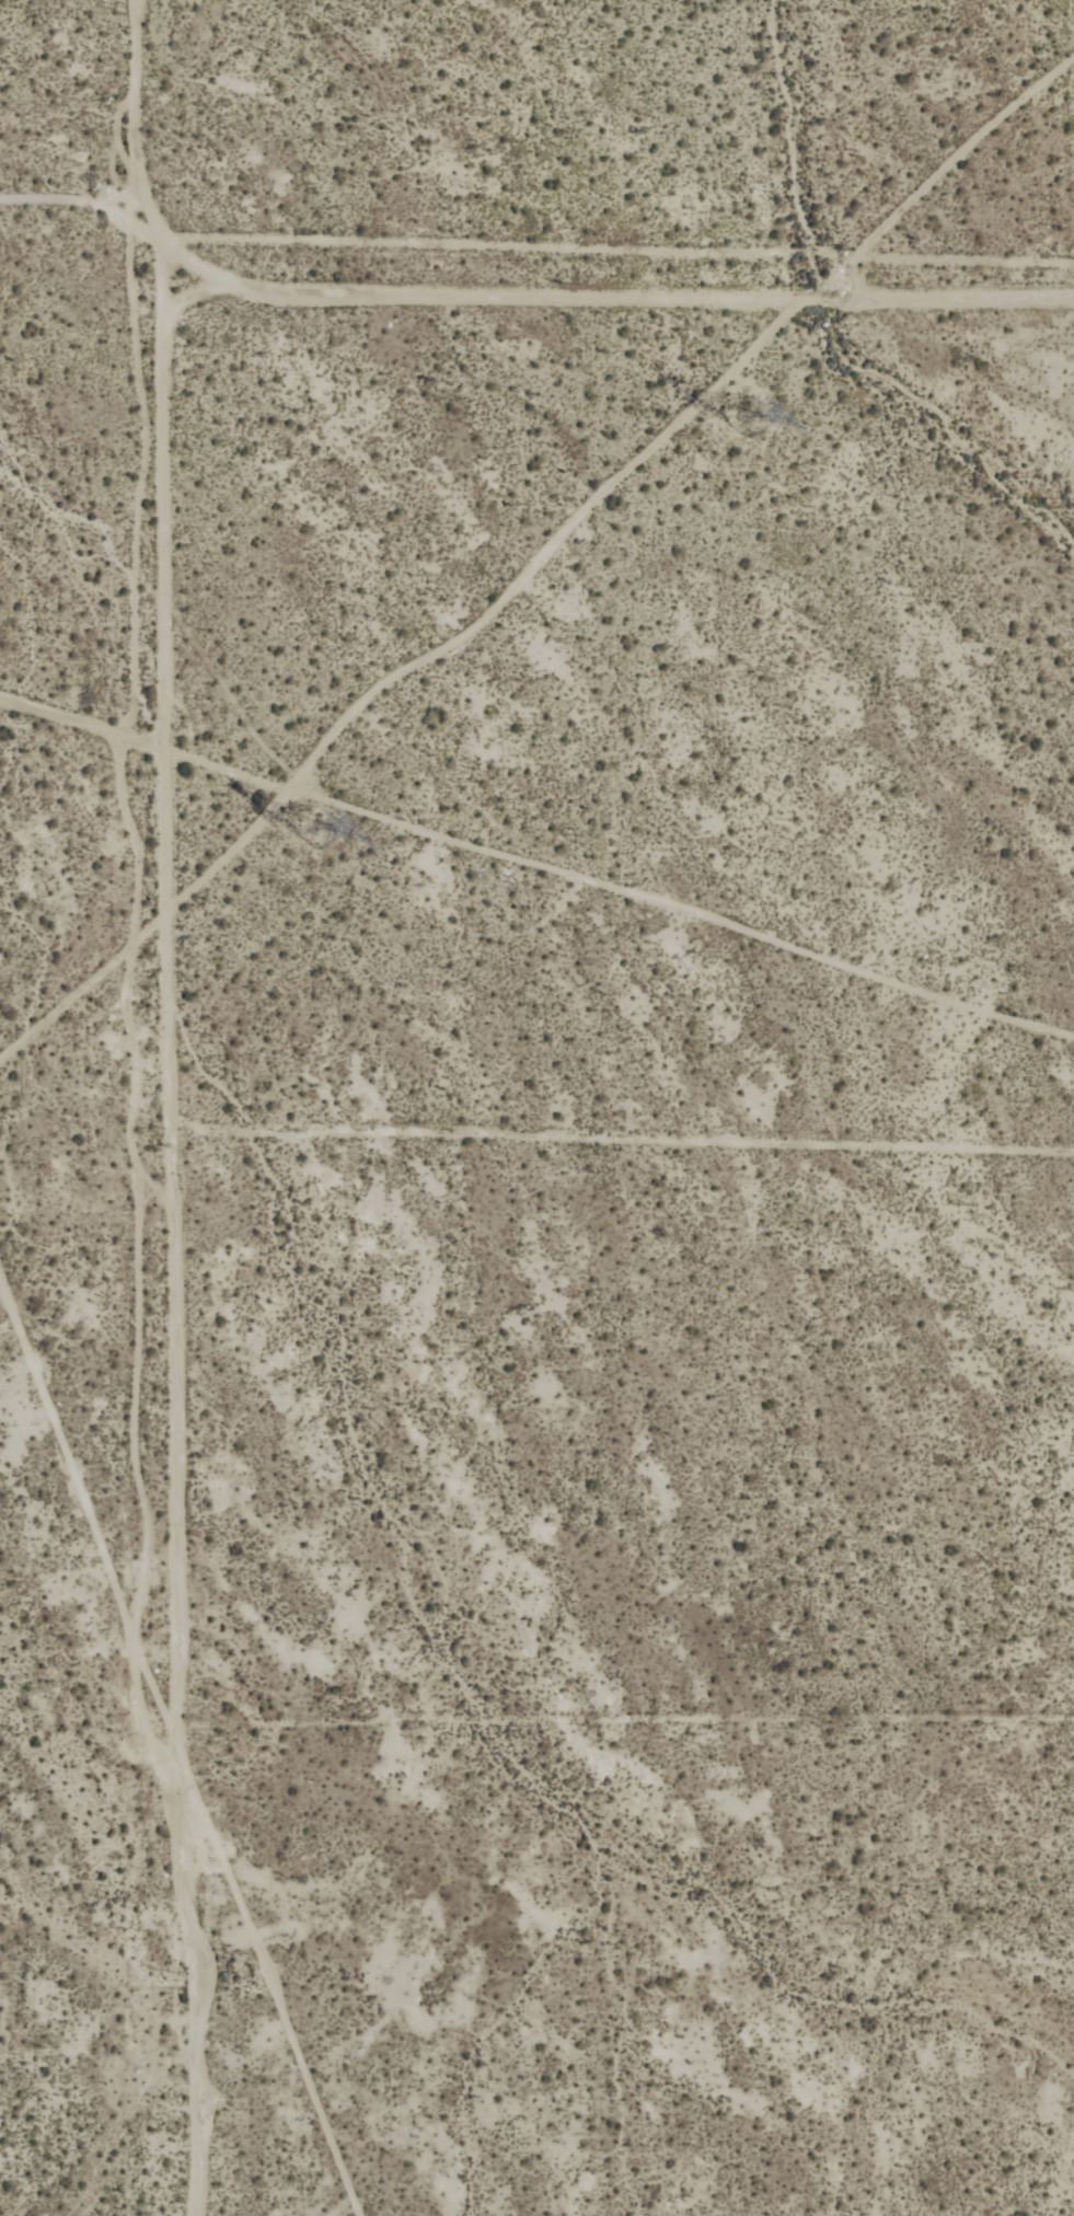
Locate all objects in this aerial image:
road: (85, 200)
road: (617, 298)
power tower: (730, 417)
road: (80, 732)
power tower: (305, 833)
road: (143, 1110)
road: (609, 1140)

